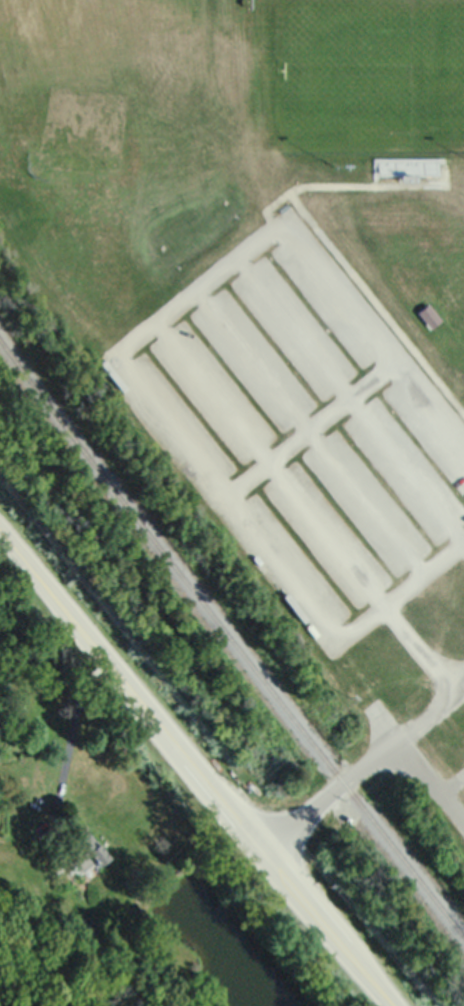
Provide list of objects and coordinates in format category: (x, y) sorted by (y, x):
park: (271, 316)
road: (146, 329)
road: (426, 573)
railway: (230, 638)
road: (426, 712)
road: (195, 771)
road: (327, 791)
building: (438, 807)
building: (85, 851)

